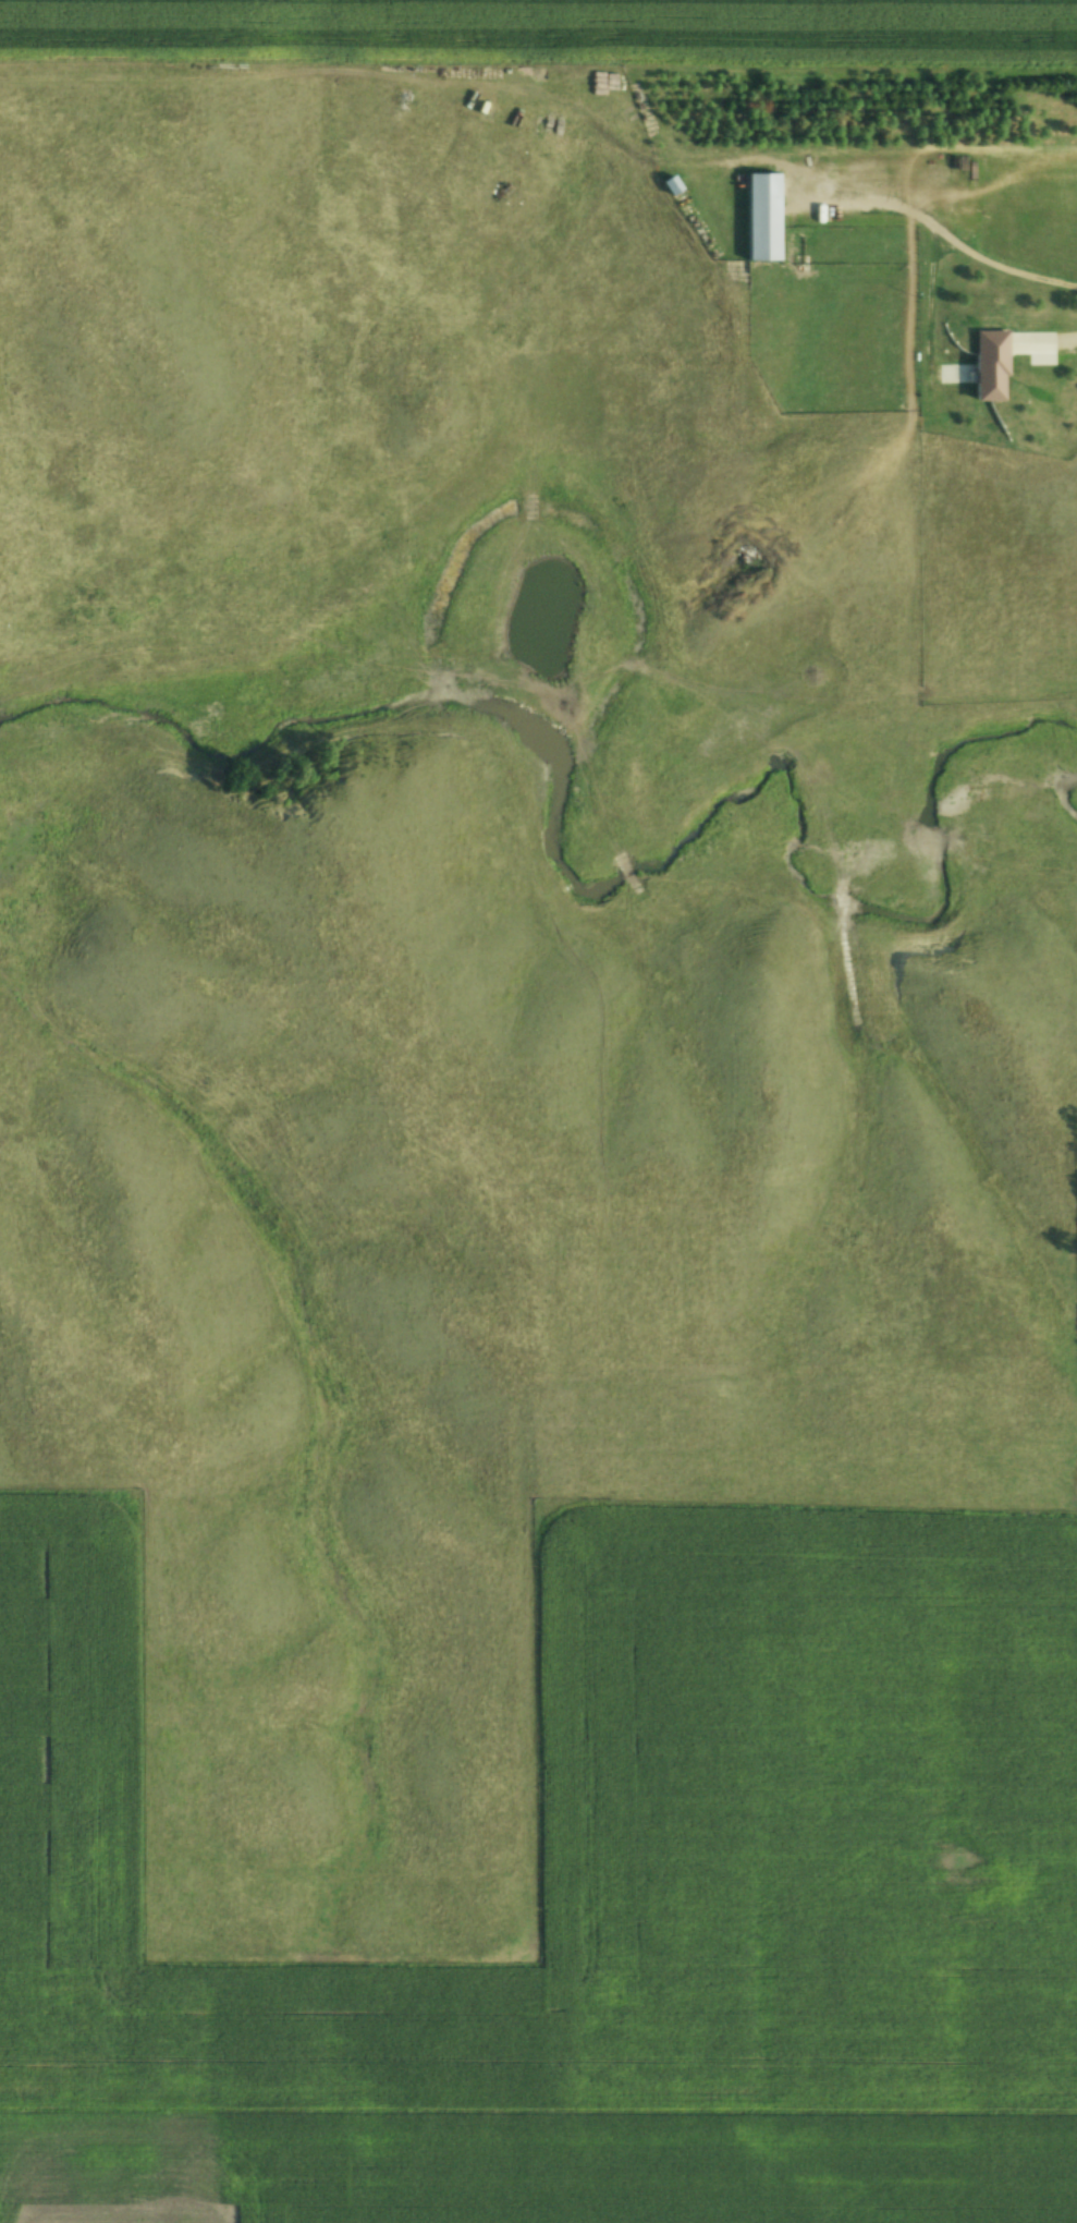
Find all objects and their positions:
building: (672, 186)
building: (763, 218)
road: (1048, 338)
building: (990, 384)

